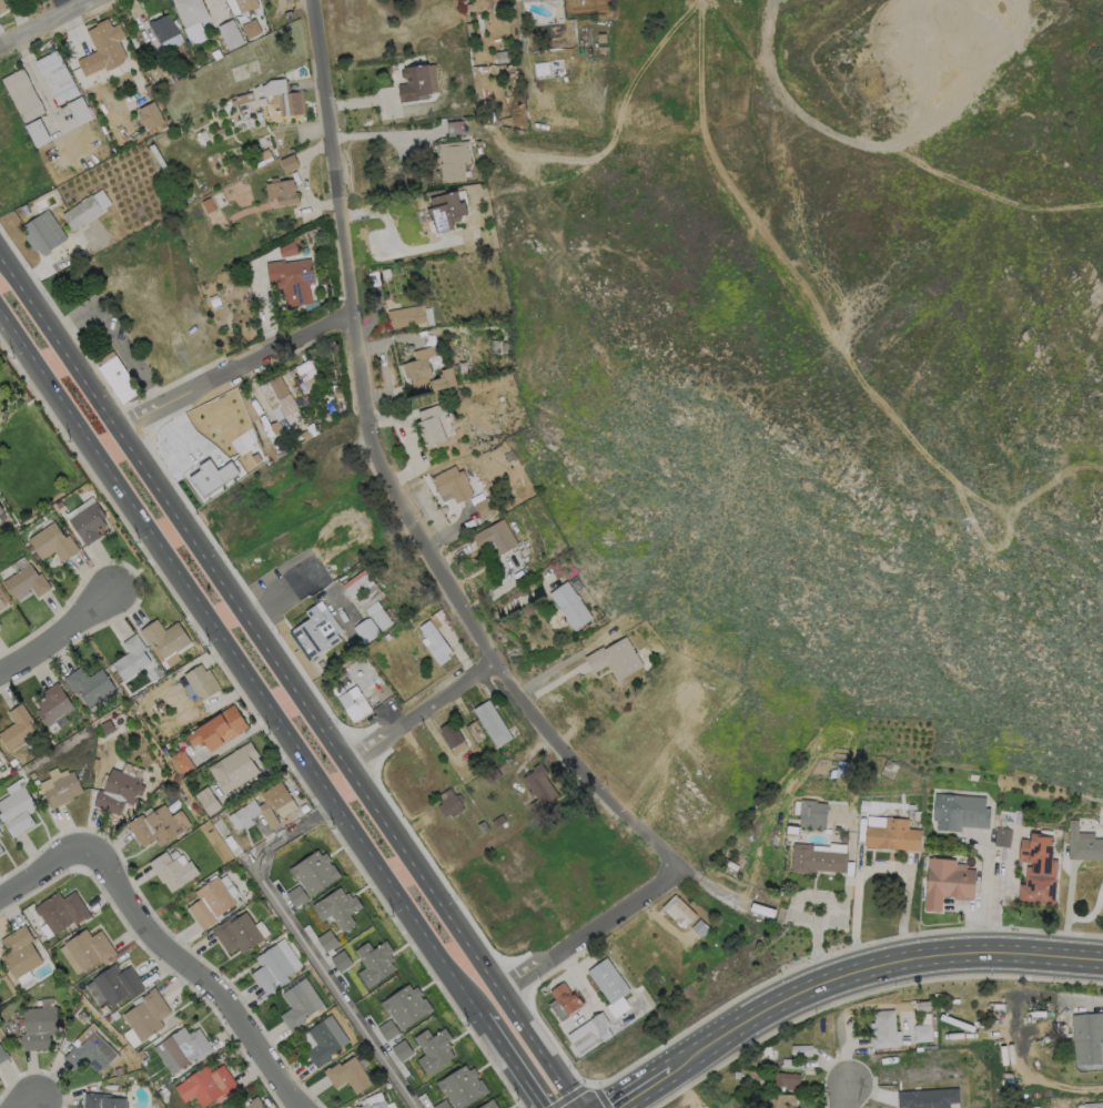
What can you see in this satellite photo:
building: (528, 0)
building: (245, 4)
building: (1, 6)
road: (60, 6)
building: (468, 8)
building: (191, 18)
road: (42, 21)
building: (163, 27)
building: (251, 28)
building: (229, 33)
building: (600, 37)
building: (101, 49)
building: (600, 49)
building: (504, 55)
building: (540, 68)
building: (158, 70)
building: (57, 77)
building: (417, 82)
building: (149, 91)
building: (22, 94)
building: (241, 99)
building: (293, 103)
building: (78, 110)
building: (149, 115)
building: (454, 129)
road: (863, 131)
building: (37, 132)
road: (378, 134)
road: (886, 152)
building: (264, 153)
building: (453, 160)
building: (289, 162)
building: (281, 191)
building: (208, 205)
building: (85, 209)
building: (24, 210)
building: (445, 210)
building: (42, 232)
building: (312, 232)
road: (389, 236)
building: (286, 248)
building: (373, 278)
building: (291, 279)
building: (214, 301)
building: (406, 316)
road: (233, 366)
building: (425, 372)
building: (305, 373)
building: (117, 376)
building: (277, 395)
building: (431, 424)
building: (211, 477)
road: (385, 481)
building: (451, 485)
building: (58, 504)
building: (483, 506)
building: (1, 516)
building: (88, 522)
building: (494, 536)
building: (52, 542)
building: (26, 582)
building: (576, 585)
building: (1, 603)
building: (569, 604)
building: (380, 618)
building: (438, 618)
building: (316, 630)
building: (365, 630)
road: (64, 636)
building: (164, 640)
building: (435, 642)
building: (131, 657)
building: (614, 658)
road: (289, 680)
building: (200, 682)
building: (89, 683)
building: (354, 703)
road: (270, 704)
building: (54, 705)
road: (417, 711)
building: (492, 723)
building: (217, 728)
building: (21, 730)
building: (474, 731)
building: (449, 734)
building: (181, 742)
building: (505, 752)
building: (180, 762)
building: (234, 766)
building: (31, 774)
building: (490, 774)
building: (538, 786)
building: (119, 789)
building: (62, 790)
building: (279, 799)
building: (206, 800)
building: (448, 802)
building: (17, 811)
building: (960, 811)
building: (252, 814)
building: (811, 814)
building: (914, 814)
building: (212, 819)
building: (497, 820)
building: (156, 825)
building: (482, 826)
building: (0, 834)
building: (892, 835)
building: (1001, 836)
building: (1082, 843)
building: (0, 850)
building: (816, 858)
road: (878, 867)
building: (172, 870)
building: (1036, 870)
road: (44, 871)
building: (314, 872)
building: (945, 882)
building: (295, 895)
building: (210, 902)
road: (983, 903)
building: (336, 907)
building: (761, 909)
building: (60, 911)
building: (678, 911)
road: (833, 912)
building: (699, 927)
road: (589, 931)
building: (237, 933)
building: (326, 938)
road: (303, 944)
building: (85, 948)
building: (19, 952)
building: (340, 960)
building: (374, 962)
building: (273, 965)
road: (874, 970)
road: (196, 973)
building: (0, 978)
building: (608, 979)
building: (113, 984)
building: (563, 1000)
road: (1080, 1003)
building: (298, 1004)
building: (405, 1006)
building: (921, 1006)
building: (114, 1014)
building: (146, 1014)
building: (606, 1024)
building: (38, 1027)
building: (387, 1029)
building: (882, 1029)
building: (922, 1033)
building: (324, 1039)
building: (1086, 1039)
building: (181, 1048)
building: (401, 1049)
building: (434, 1049)
building: (800, 1049)
building: (90, 1054)
building: (140, 1054)
building: (2, 1055)
building: (791, 1063)
building: (117, 1070)
building: (736, 1074)
building: (347, 1075)
road: (1032, 1076)
building: (785, 1079)
building: (206, 1085)
building: (461, 1086)
road: (642, 1089)
road: (847, 1096)
building: (928, 1098)
building: (103, 1101)
building: (786, 1101)
road: (34, 1102)
building: (256, 1104)
building: (443, 1105)
building: (490, 1105)
building: (376, 1106)
building: (1094, 1106)
building: (357, 1107)

